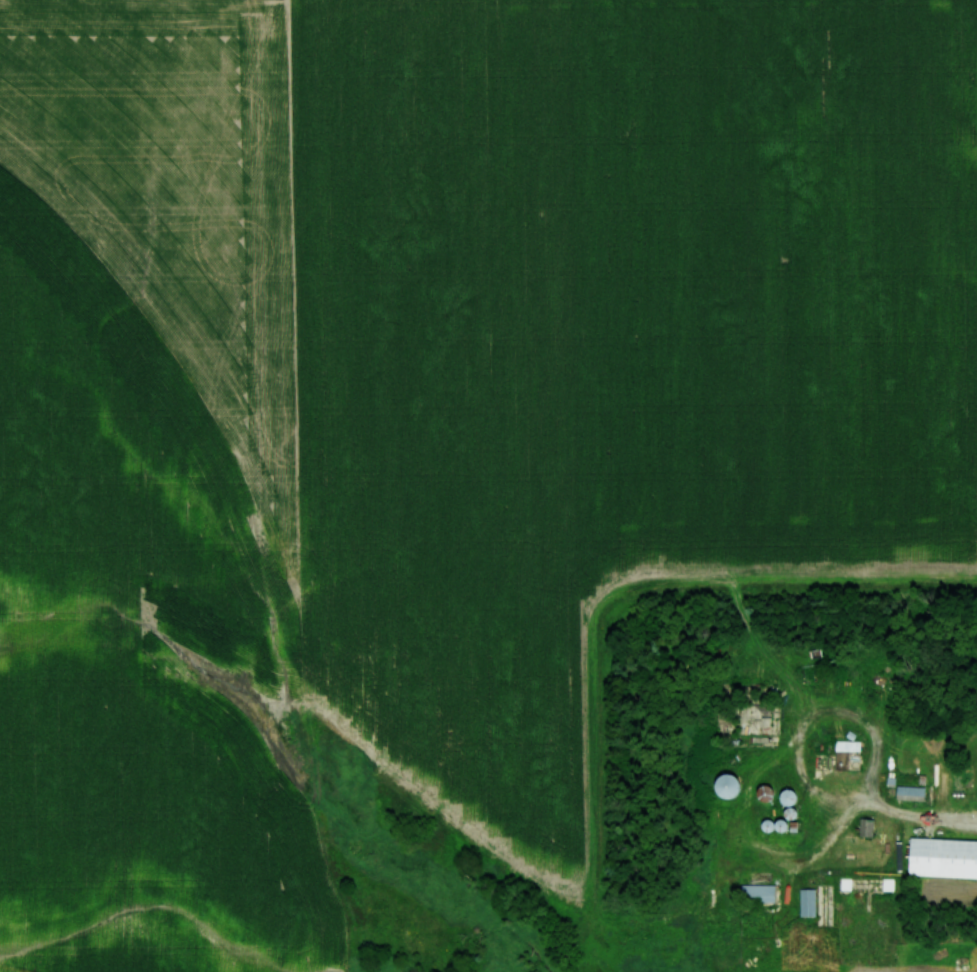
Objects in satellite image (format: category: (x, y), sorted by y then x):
building: (847, 746)
building: (724, 787)
building: (909, 792)
building: (762, 793)
building: (785, 798)
building: (865, 827)
building: (942, 858)
building: (845, 885)
building: (756, 894)
building: (806, 903)

